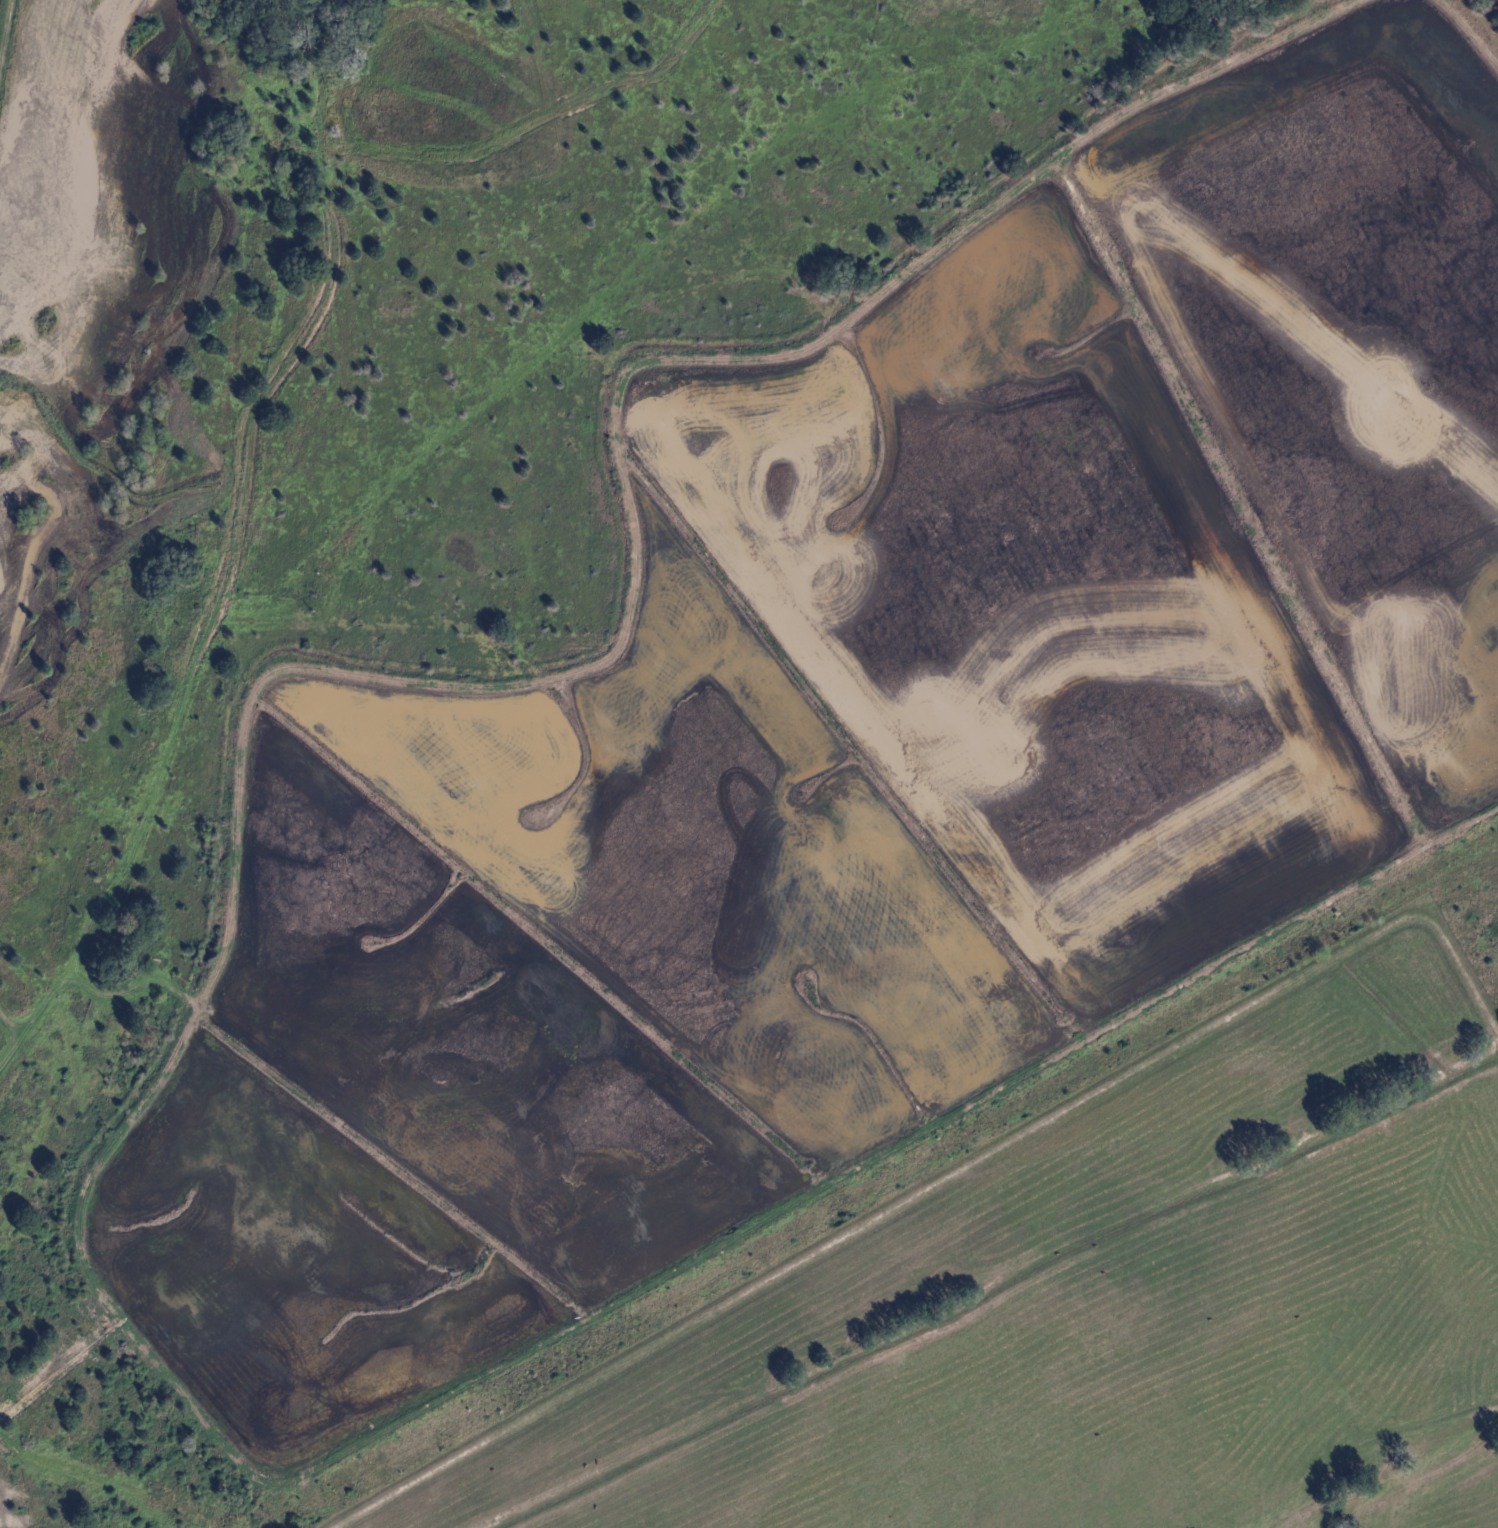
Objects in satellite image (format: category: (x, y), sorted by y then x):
road: (147, 820)
road: (1394, 1467)
road: (106, 1484)

